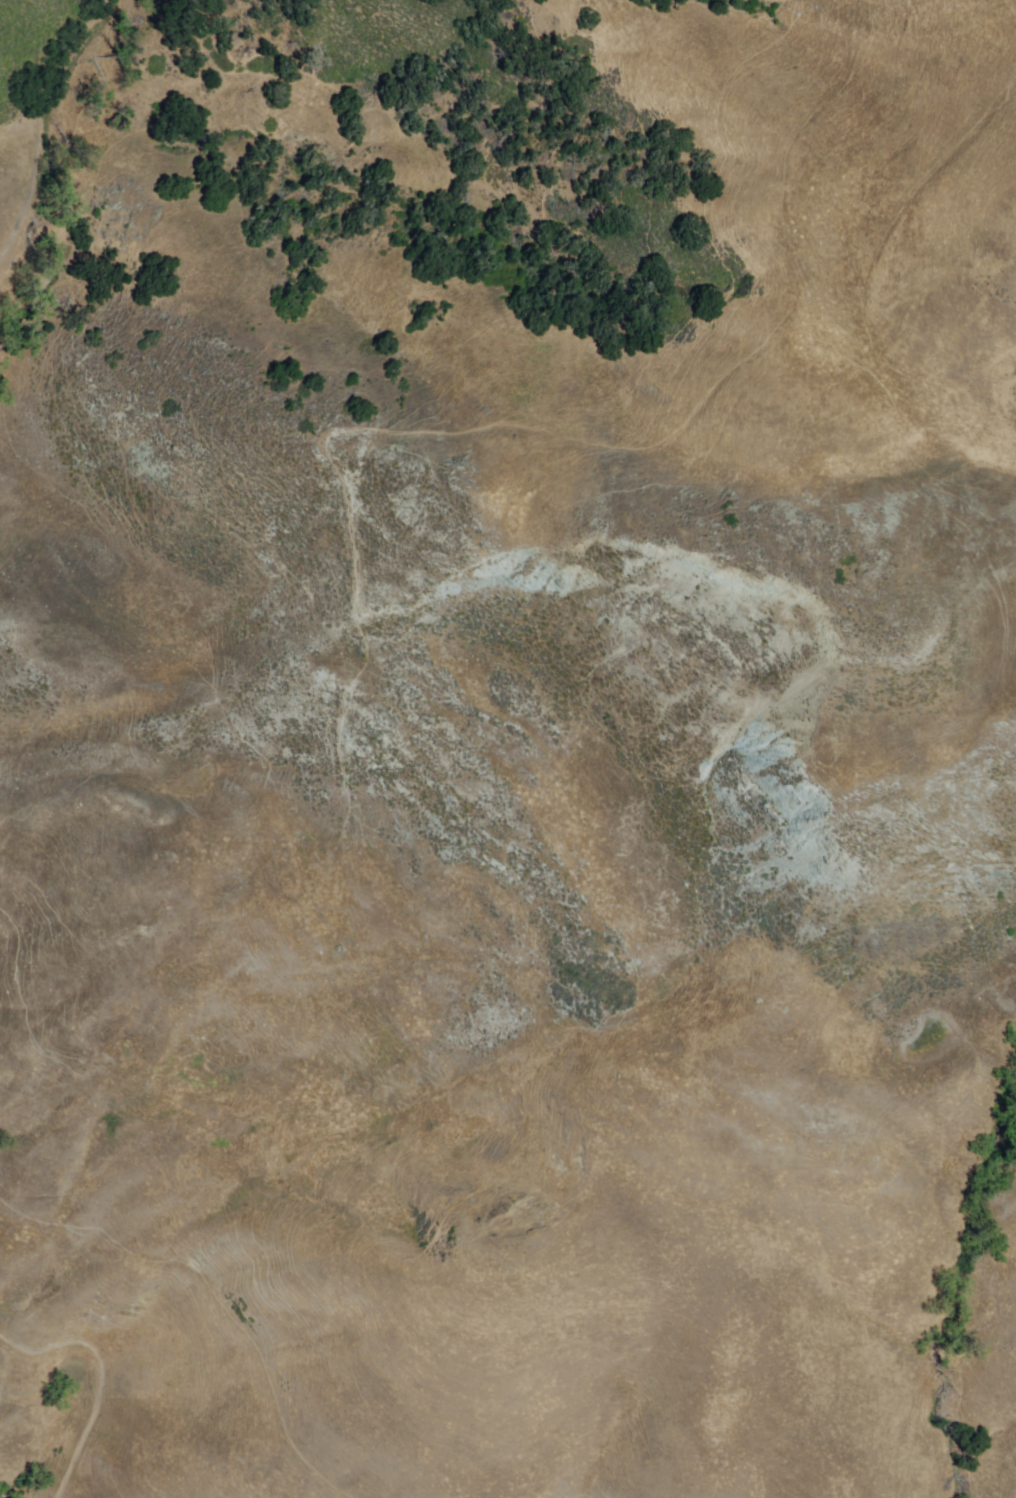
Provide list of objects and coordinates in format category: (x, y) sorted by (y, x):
road: (53, 128)
road: (103, 1375)

